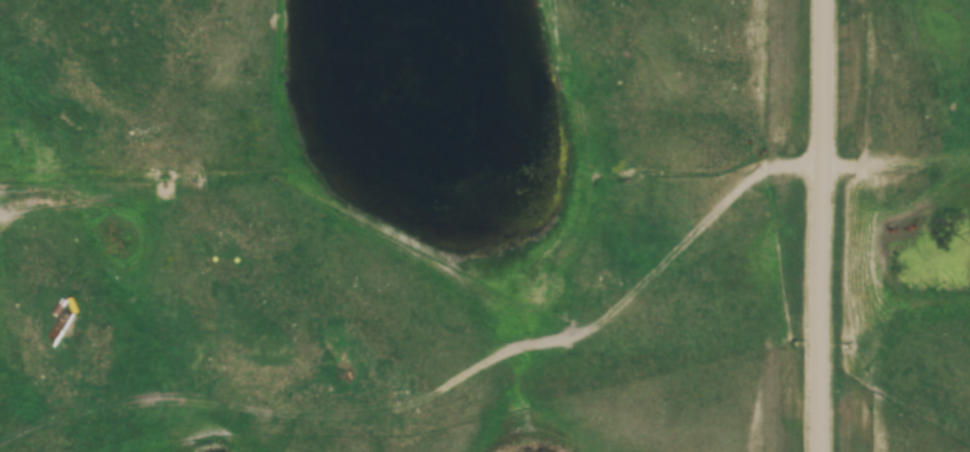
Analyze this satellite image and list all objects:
road: (822, 225)
road: (506, 350)

